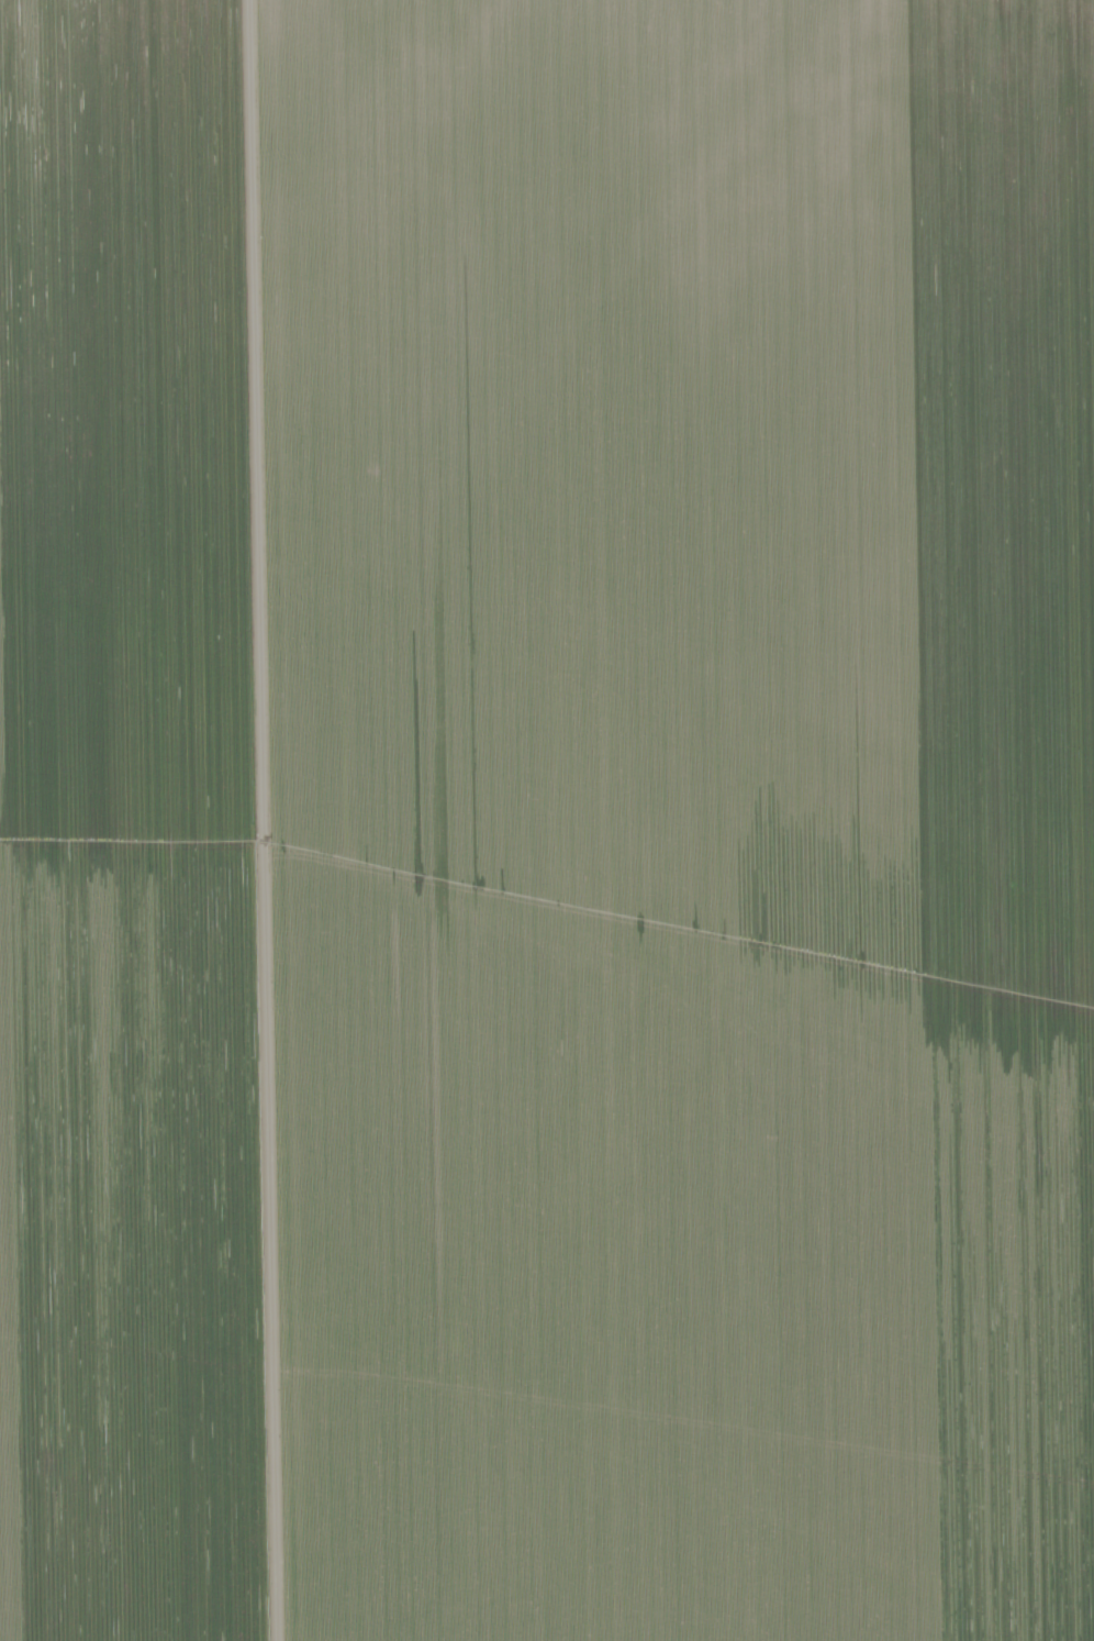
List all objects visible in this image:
crop: (547, 820)

